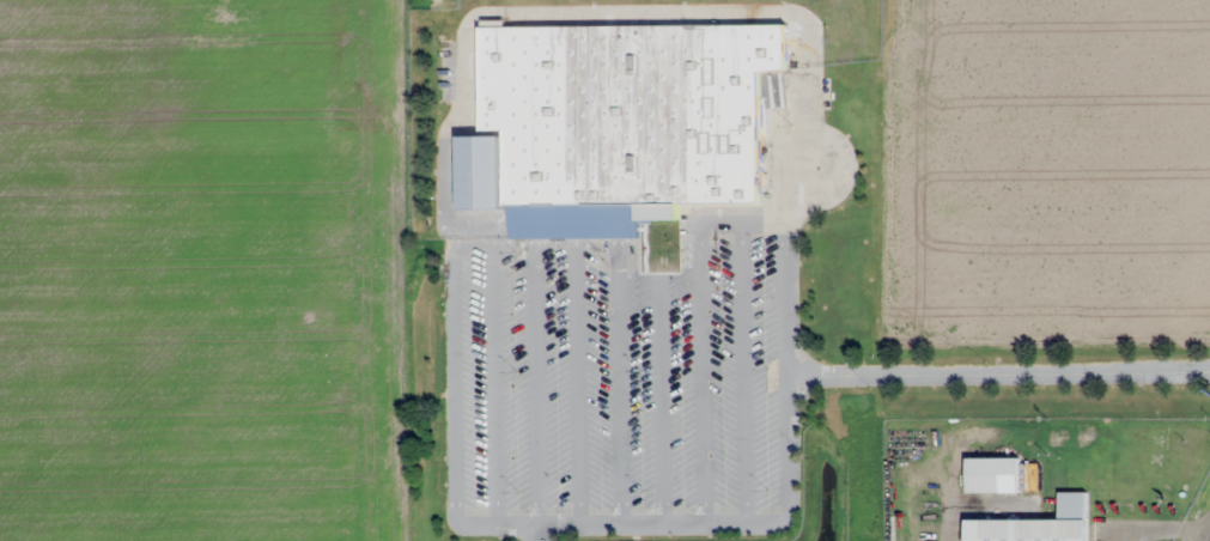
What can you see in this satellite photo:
building: (631, 111)
road: (452, 372)
road: (998, 373)
building: (992, 474)
building: (1026, 529)
road: (536, 534)

